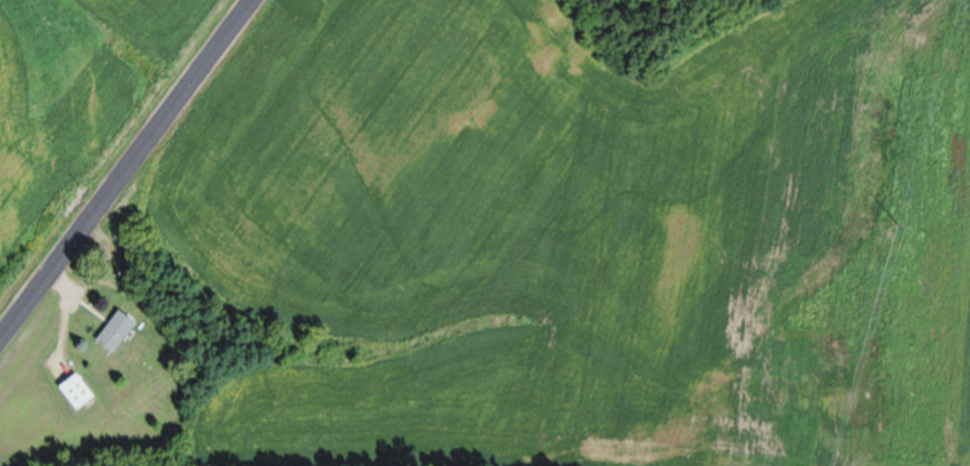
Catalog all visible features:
road: (128, 168)
building: (112, 336)
building: (73, 395)

